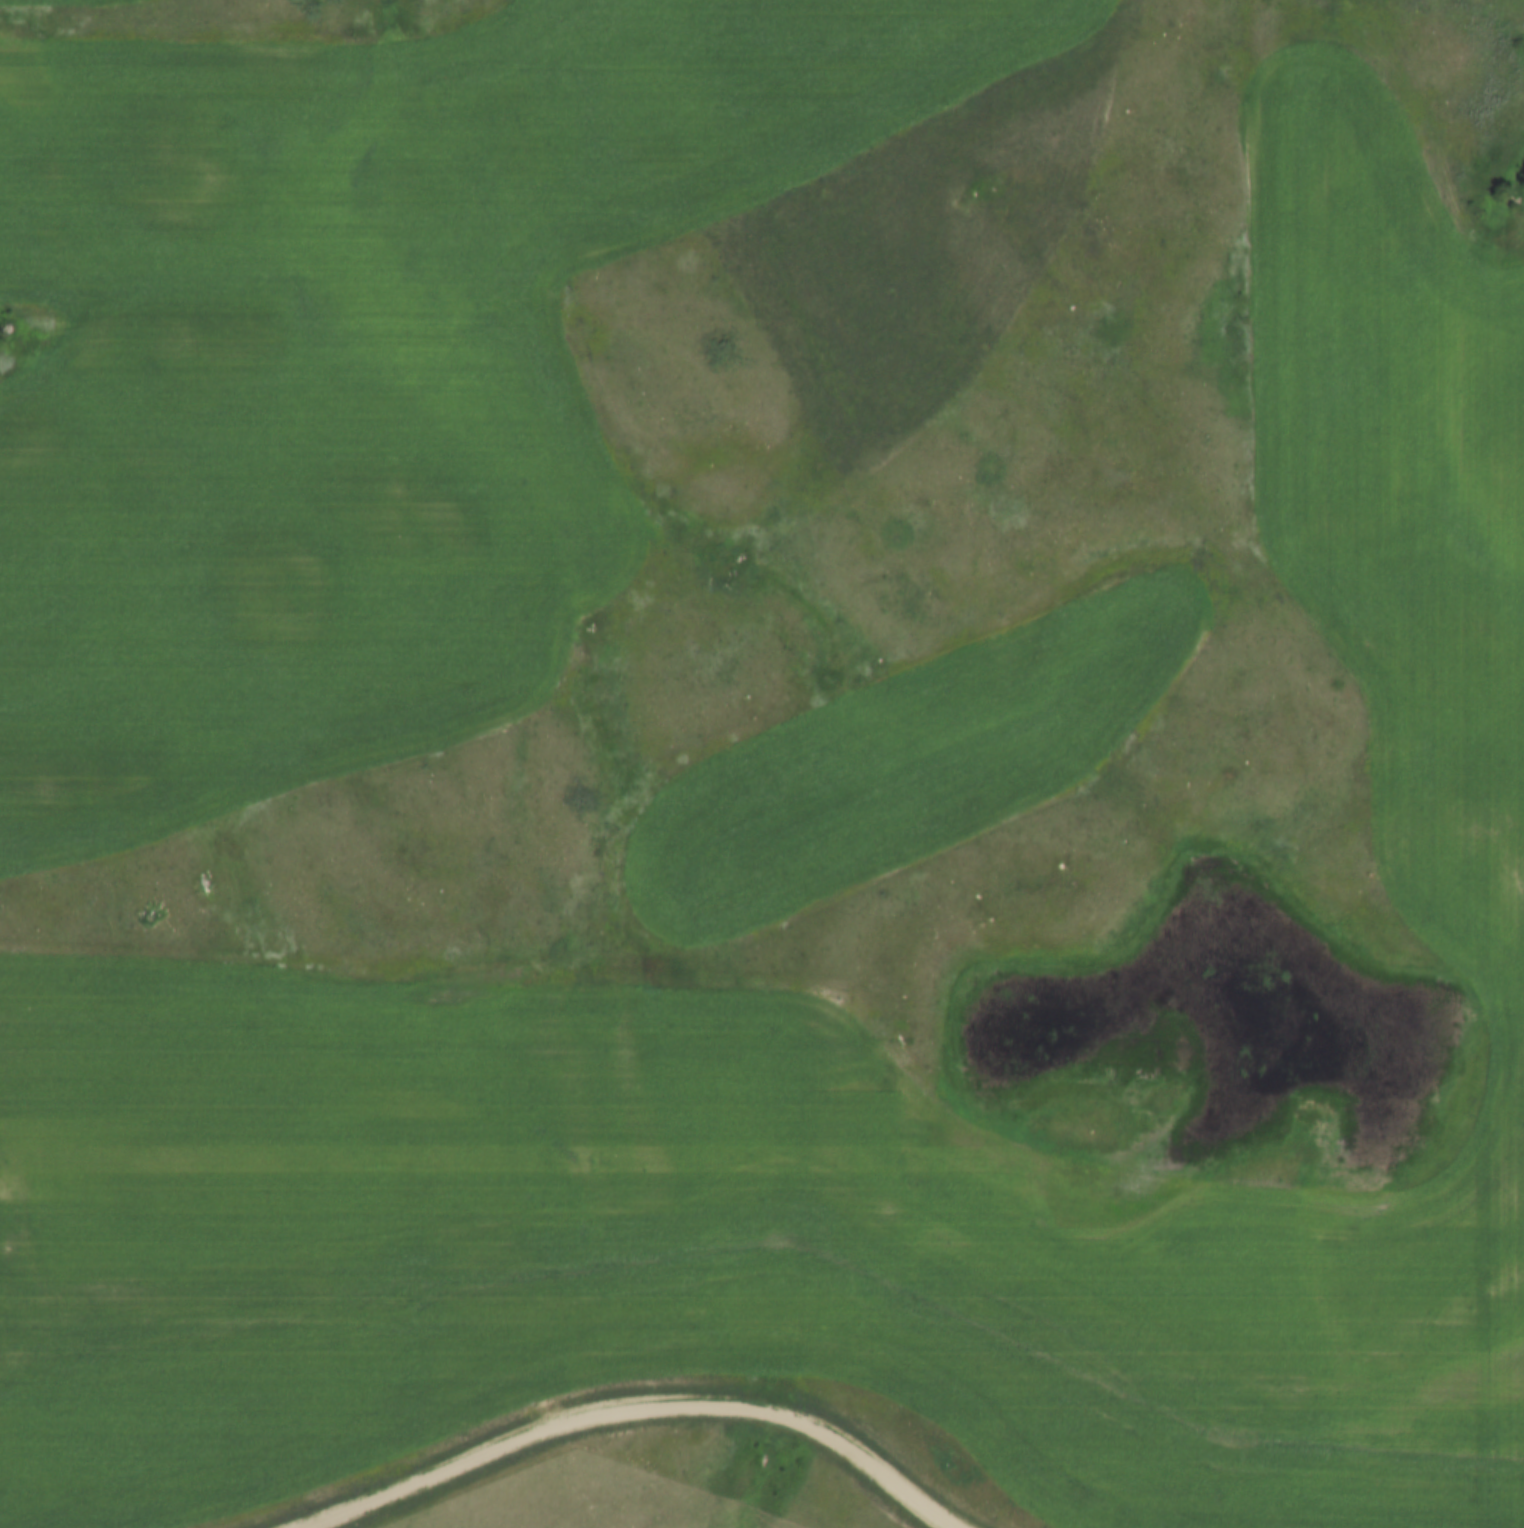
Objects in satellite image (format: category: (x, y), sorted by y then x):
road: (648, 1402)

